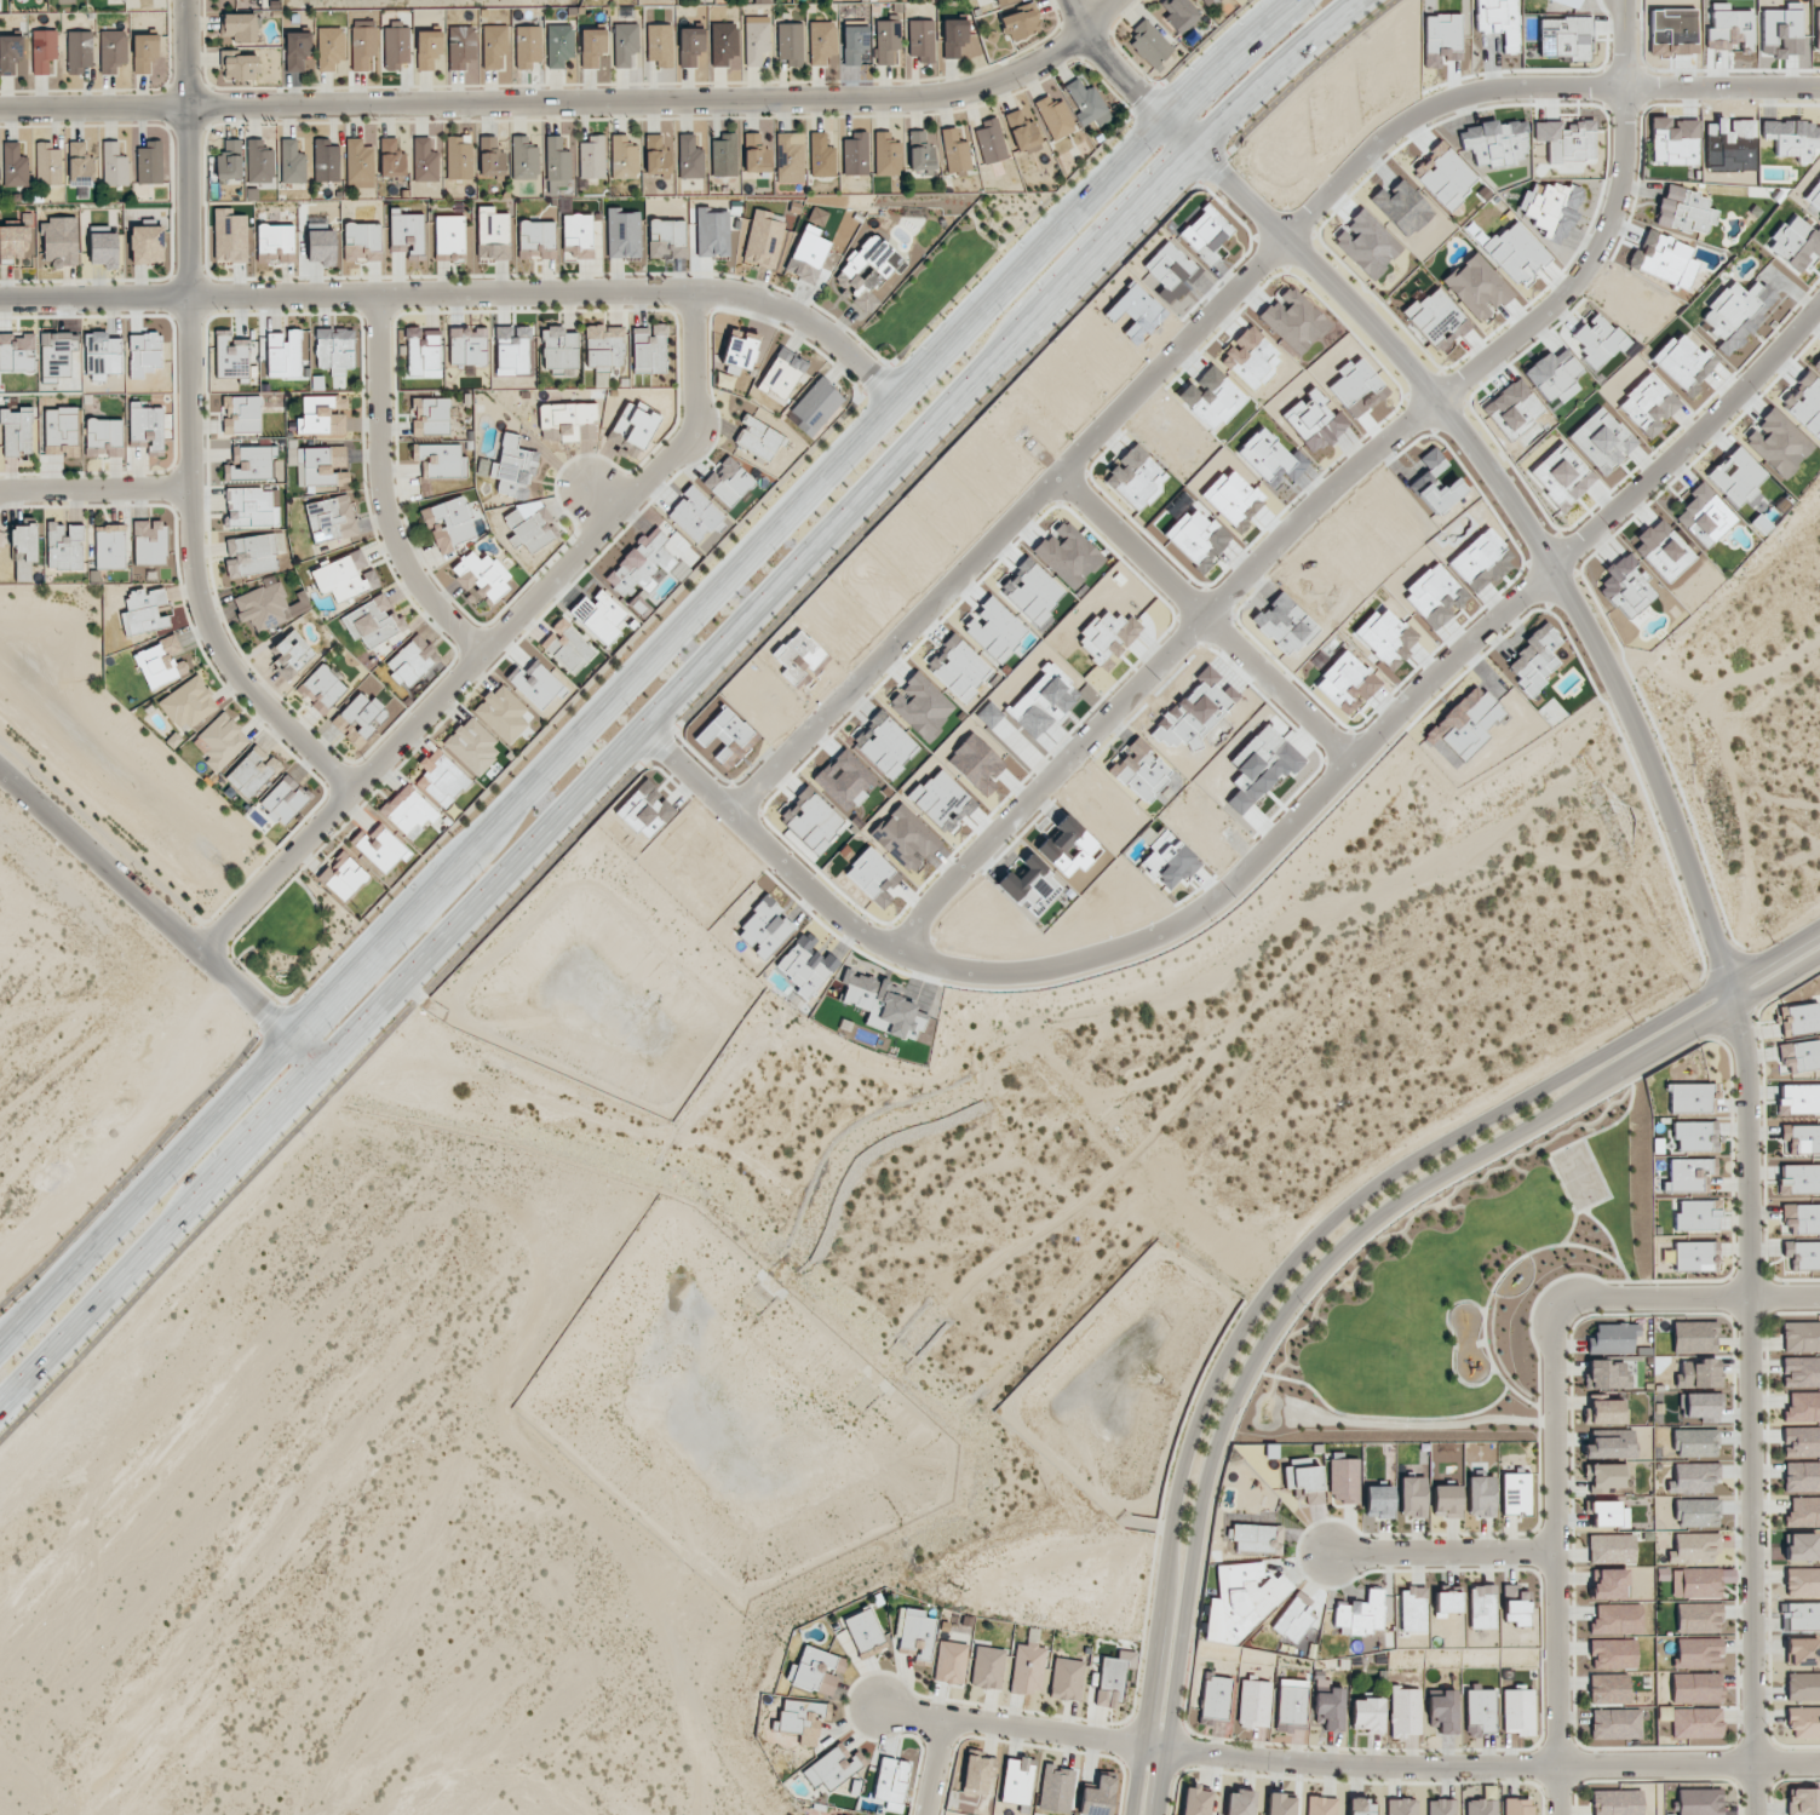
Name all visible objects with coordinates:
building: (762, 1)
building: (1000, 1)
building: (1208, 2)
building: (1567, 2)
building: (1179, 15)
road: (1100, 16)
building: (1498, 21)
building: (1020, 22)
building: (240, 27)
building: (1816, 28)
building: (1729, 29)
building: (953, 36)
building: (920, 38)
building: (1563, 38)
building: (756, 39)
building: (886, 39)
building: (1442, 39)
building: (821, 41)
building: (791, 42)
building: (363, 44)
building: (624, 44)
building: (723, 44)
building: (854, 44)
building: (396, 45)
building: (559, 45)
building: (660, 45)
building: (689, 45)
building: (1150, 45)
building: (460, 46)
building: (528, 46)
building: (591, 46)
building: (329, 47)
building: (494, 47)
building: (427, 48)
building: (111, 50)
building: (79, 51)
building: (297, 51)
building: (44, 52)
building: (144, 52)
building: (10, 53)
building: (239, 65)
road: (1514, 85)
road: (1810, 88)
road: (1810, 92)
road: (549, 102)
building: (1087, 104)
building: (1055, 117)
building: (1021, 131)
building: (1792, 137)
building: (1566, 139)
building: (989, 140)
building: (1673, 140)
building: (1493, 142)
building: (919, 151)
building: (954, 151)
building: (754, 153)
building: (855, 153)
building: (723, 154)
building: (886, 154)
building: (821, 155)
building: (656, 156)
building: (591, 157)
building: (624, 157)
building: (689, 157)
building: (788, 157)
building: (391, 159)
building: (425, 159)
building: (458, 159)
building: (490, 159)
building: (523, 159)
building: (229, 160)
building: (326, 161)
building: (149, 162)
building: (259, 162)
building: (292, 162)
building: (47, 163)
building: (358, 163)
building: (556, 163)
building: (114, 165)
building: (13, 166)
building: (1442, 176)
building: (1814, 197)
building: (1684, 209)
building: (1552, 211)
building: (817, 217)
building: (492, 234)
building: (622, 234)
building: (712, 234)
building: (1205, 234)
building: (229, 235)
building: (407, 235)
building: (581, 236)
building: (449, 237)
building: (666, 237)
building: (764, 237)
building: (536, 240)
building: (59, 241)
building: (362, 241)
building: (15, 242)
building: (275, 242)
building: (1366, 243)
building: (147, 245)
building: (321, 247)
building: (103, 249)
building: (808, 254)
building: (868, 270)
building: (1170, 271)
building: (1476, 287)
road: (461, 294)
building: (1735, 314)
building: (1598, 339)
building: (604, 345)
building: (467, 346)
building: (559, 348)
building: (334, 349)
building: (649, 349)
building: (739, 349)
building: (17, 350)
building: (512, 350)
building: (58, 352)
building: (423, 352)
building: (144, 354)
building: (283, 354)
building: (102, 355)
building: (230, 355)
building: (1250, 357)
building: (1816, 363)
building: (782, 373)
building: (1554, 375)
building: (1804, 403)
building: (1649, 404)
building: (815, 406)
building: (242, 414)
building: (321, 415)
building: (430, 417)
building: (564, 419)
building: (1314, 421)
road: (188, 424)
building: (145, 426)
building: (632, 427)
building: (16, 431)
building: (61, 431)
road: (1690, 436)
building: (103, 437)
building: (758, 438)
building: (1602, 440)
building: (1778, 443)
building: (1270, 458)
building: (440, 460)
building: (248, 463)
building: (318, 465)
building: (512, 467)
building: (1564, 472)
building: (1736, 476)
building: (1136, 477)
building: (728, 481)
road: (94, 489)
road: (384, 490)
road: (1317, 495)
building: (251, 507)
building: (694, 513)
building: (1704, 516)
building: (331, 518)
building: (449, 523)
building: (528, 524)
road: (1004, 524)
building: (149, 542)
building: (64, 546)
building: (109, 546)
building: (23, 551)
building: (251, 555)
building: (639, 564)
building: (481, 575)
building: (344, 576)
building: (1625, 586)
building: (144, 597)
building: (268, 605)
building: (599, 615)
road: (1193, 619)
building: (143, 620)
building: (373, 621)
building: (1107, 634)
road: (494, 642)
building: (567, 647)
building: (291, 654)
building: (1534, 659)
building: (409, 660)
building: (160, 662)
road: (637, 664)
building: (535, 684)
building: (321, 688)
building: (188, 703)
road: (672, 703)
building: (501, 713)
building: (358, 718)
building: (219, 741)
building: (471, 746)
building: (251, 771)
building: (441, 777)
building: (283, 799)
road: (1667, 809)
building: (408, 811)
road: (108, 839)
building: (380, 848)
building: (341, 875)
building: (1030, 886)
road: (162, 919)
park: (288, 938)
road: (1126, 941)
building: (1798, 1018)
building: (1798, 1056)
building: (1690, 1098)
building: (1798, 1098)
building: (1694, 1136)
building: (1802, 1138)
building: (1687, 1174)
building: (1798, 1179)
building: (1696, 1216)
building: (1801, 1218)
road: (1305, 1245)
building: (1802, 1254)
building: (1694, 1256)
road: (1324, 1264)
park: (1457, 1287)
road: (1687, 1299)
building: (1694, 1337)
building: (1801, 1337)
building: (1612, 1338)
building: (1801, 1372)
building: (1698, 1373)
building: (1606, 1374)
building: (1700, 1405)
building: (1802, 1407)
building: (1606, 1412)
building: (1695, 1442)
building: (1801, 1442)
building: (1611, 1446)
building: (1604, 1477)
building: (1802, 1477)
building: (1693, 1478)
building: (1343, 1481)
building: (1304, 1482)
building: (1515, 1493)
building: (1480, 1494)
building: (1412, 1497)
building: (1447, 1500)
building: (1378, 1501)
building: (1803, 1511)
building: (1696, 1512)
building: (1608, 1515)
building: (1256, 1538)
building: (1695, 1546)
building: (1801, 1547)
building: (1611, 1549)
road: (1441, 1551)
road: (1556, 1564)
building: (1802, 1581)
building: (1696, 1583)
building: (1609, 1584)
building: (1241, 1599)
building: (1445, 1603)
building: (1514, 1604)
building: (1480, 1607)
building: (1412, 1609)
building: (1359, 1614)
building: (1803, 1615)
building: (1293, 1618)
building: (1698, 1618)
building: (1617, 1619)
building: (915, 1633)
building: (1802, 1652)
building: (1613, 1653)
building: (1698, 1653)
building: (949, 1662)
building: (987, 1667)
building: (1027, 1667)
building: (817, 1670)
building: (1112, 1677)
building: (1067, 1679)
building: (1803, 1687)
building: (1695, 1688)
building: (1609, 1689)
building: (1253, 1704)
building: (1291, 1705)
building: (1330, 1708)
building: (1443, 1711)
building: (1479, 1711)
building: (1405, 1712)
building: (1517, 1712)
building: (1367, 1715)
building: (799, 1719)
building: (1803, 1722)
building: (1615, 1723)
building: (1695, 1723)
road: (1347, 1763)
road: (935, 1765)
building: (829, 1767)
building: (977, 1771)
building: (1016, 1780)
building: (891, 1781)
building: (1055, 1788)
building: (1097, 1796)
building: (1195, 1802)
building: (1615, 1802)
building: (1699, 1802)
building: (1802, 1802)
building: (1239, 1803)
building: (1280, 1804)
building: (1321, 1805)
building: (1360, 1807)
building: (1401, 1807)
building: (1441, 1807)
building: (1481, 1807)
building: (1517, 1807)

